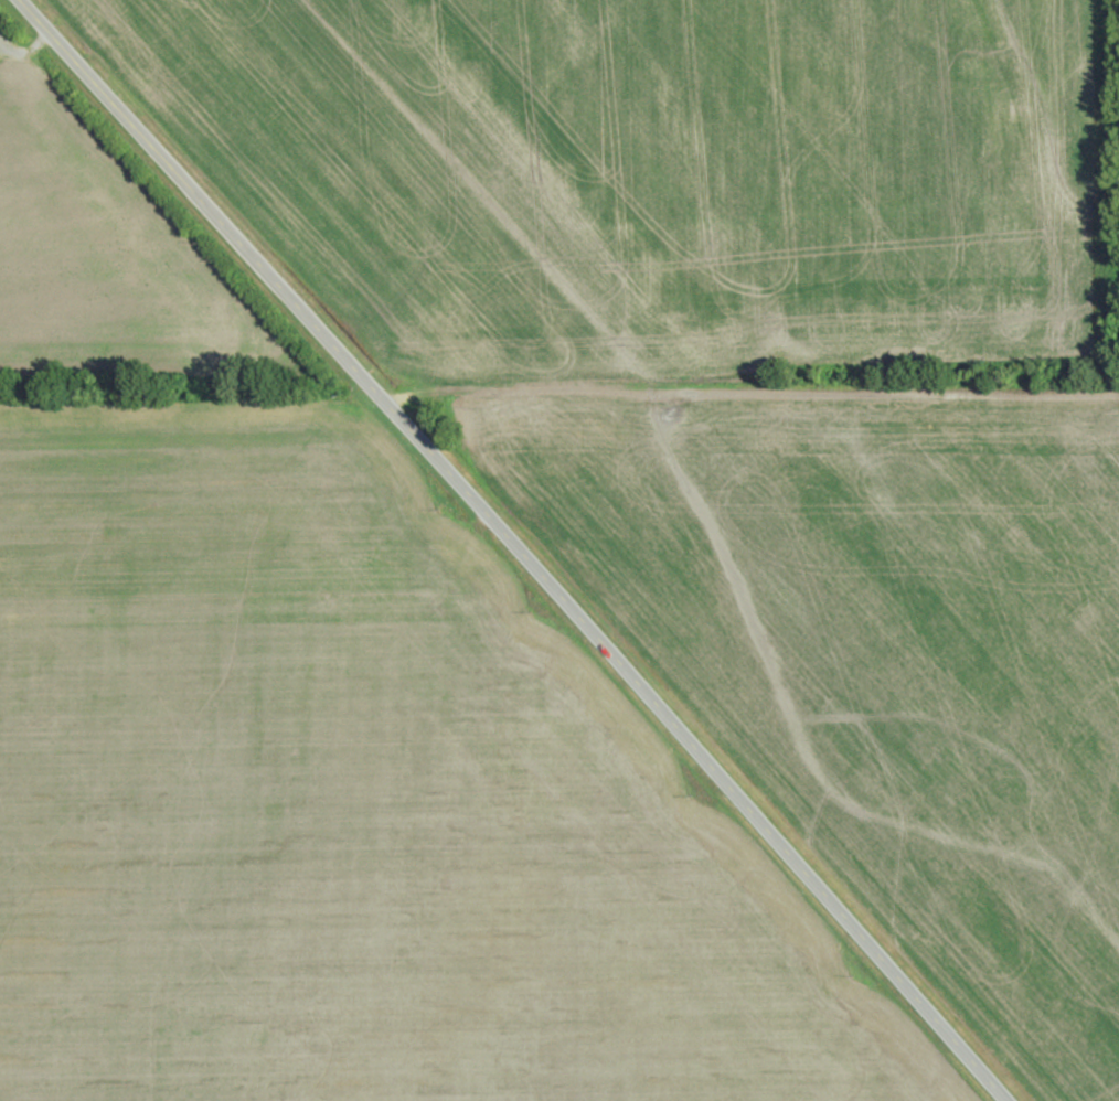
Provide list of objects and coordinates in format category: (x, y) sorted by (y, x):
road: (140, 185)
road: (518, 550)

